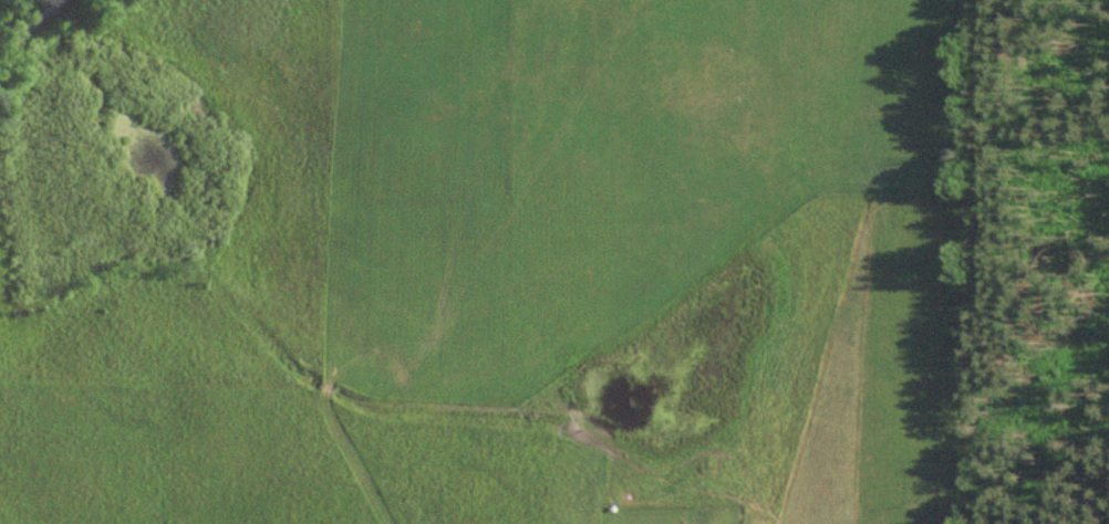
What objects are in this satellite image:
road: (25, 21)

